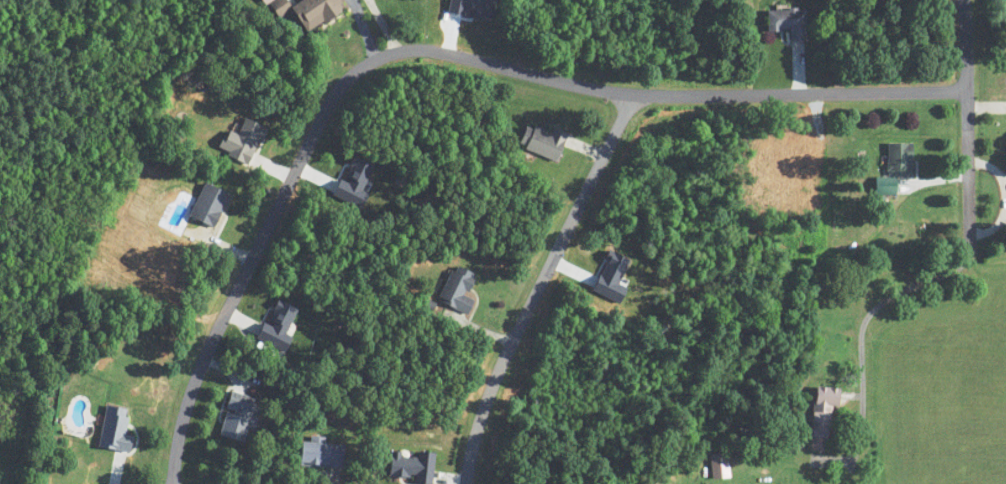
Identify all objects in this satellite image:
building: (309, 11)
building: (789, 22)
road: (363, 29)
road: (432, 51)
road: (965, 114)
building: (542, 141)
building: (900, 159)
building: (886, 186)
building: (209, 206)
road: (542, 285)
building: (458, 290)
road: (864, 320)
building: (824, 410)
building: (239, 418)
building: (115, 431)
building: (322, 456)

